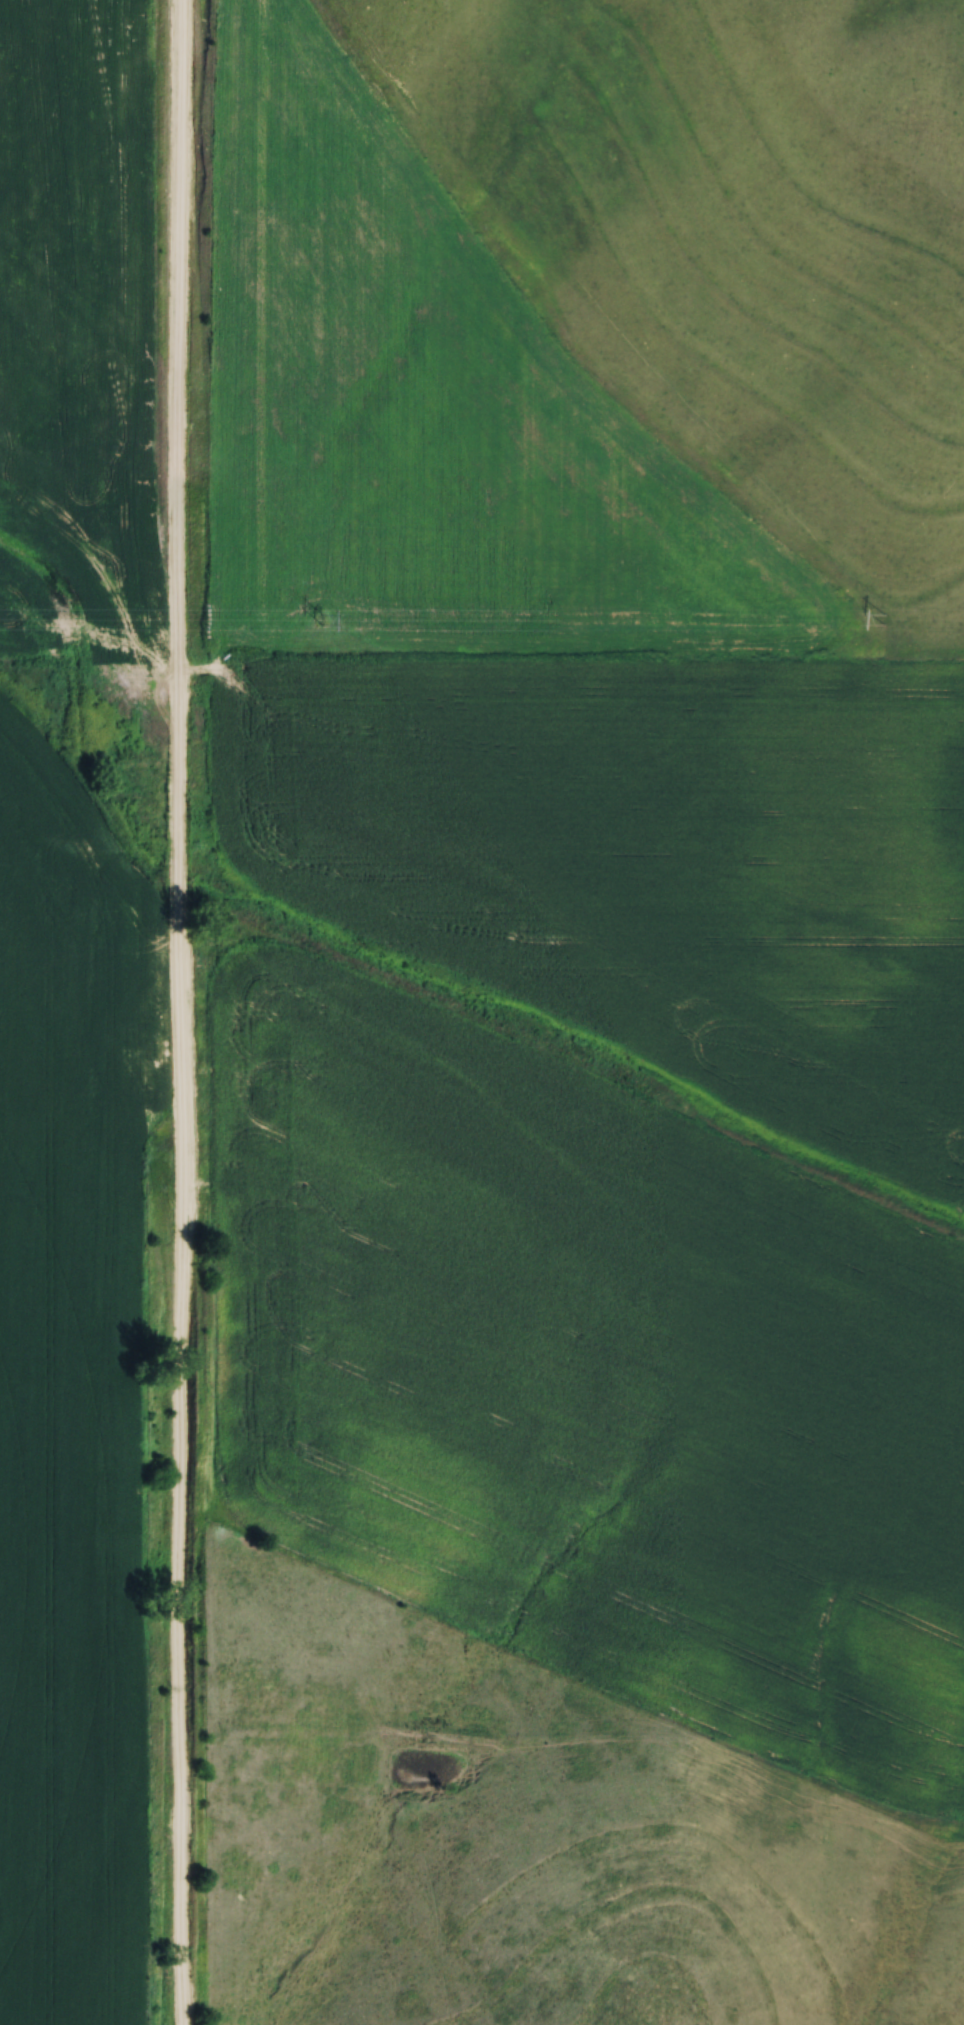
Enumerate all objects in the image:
power tower: (320, 615)
power tower: (885, 617)
road: (177, 1012)

